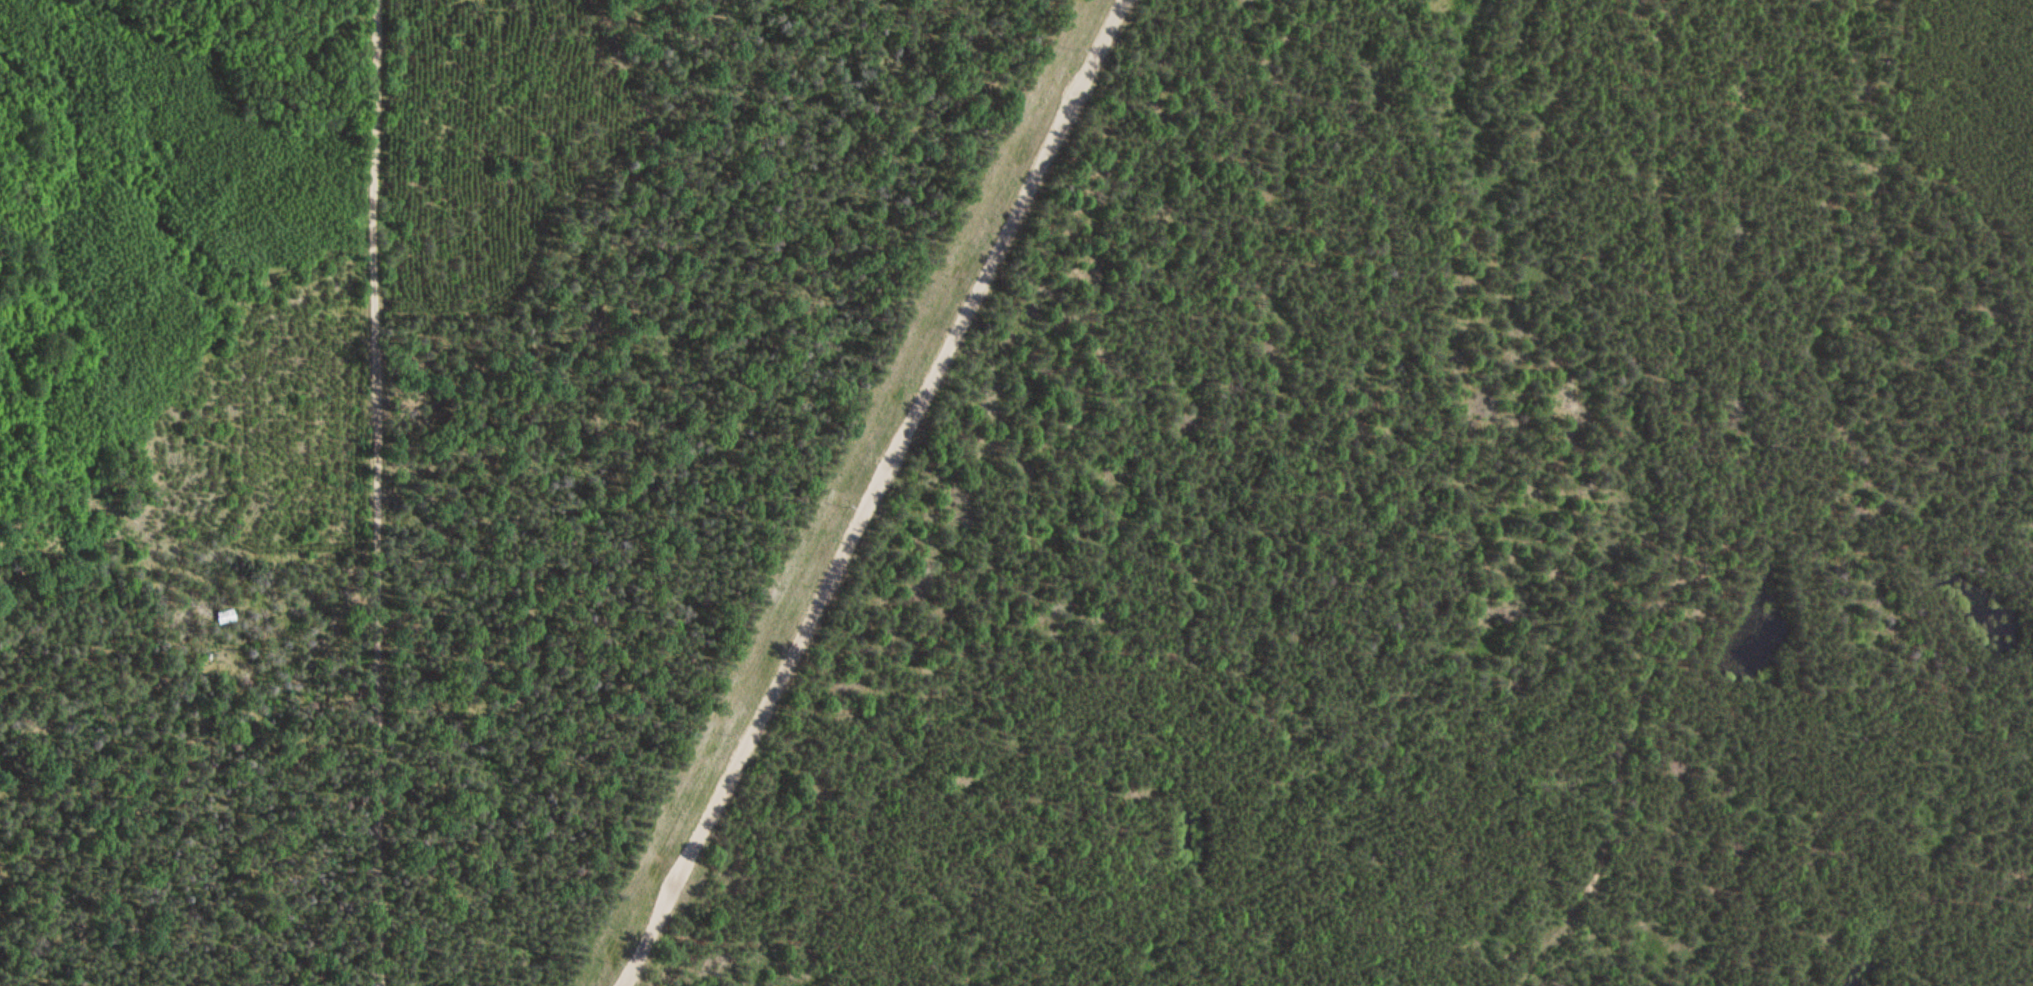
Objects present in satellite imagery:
road: (870, 489)
road: (379, 493)
road: (1690, 507)
building: (222, 617)
road: (317, 869)

